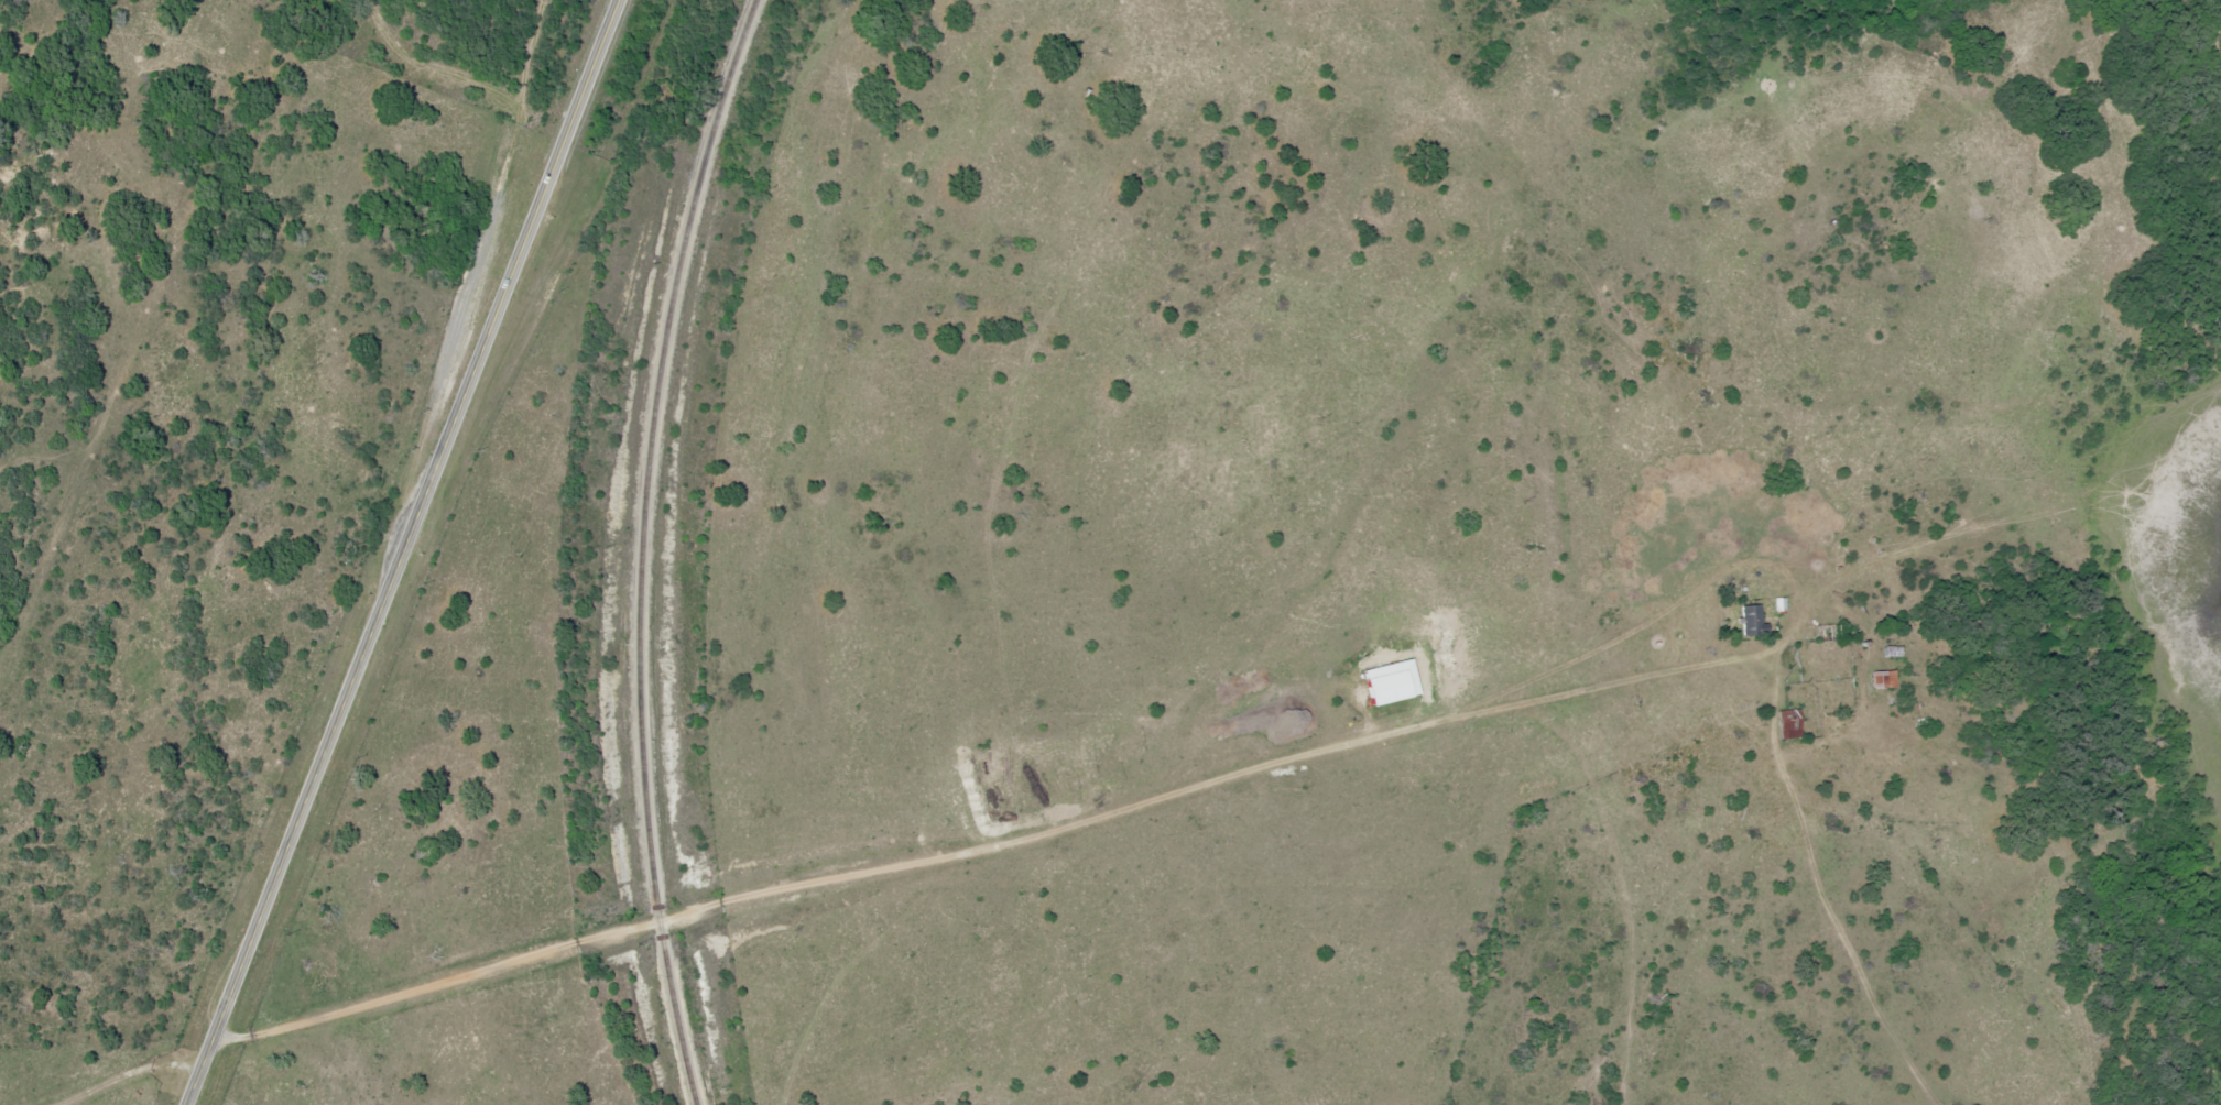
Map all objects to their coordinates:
railway: (643, 548)
road: (406, 552)
building: (1751, 620)
building: (1892, 652)
building: (1882, 679)
building: (1787, 723)

